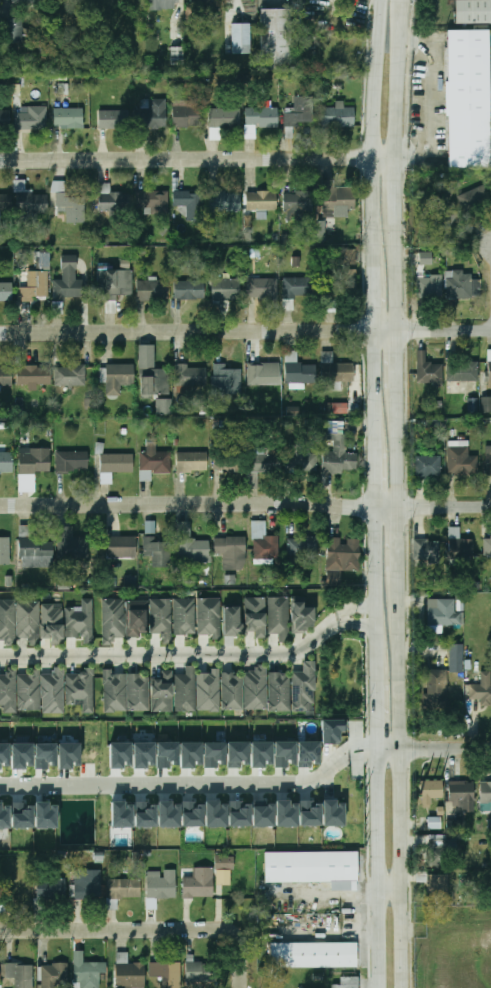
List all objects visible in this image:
building: (25, 2)
building: (164, 4)
building: (206, 5)
road: (404, 8)
building: (472, 11)
building: (13, 30)
building: (241, 39)
building: (275, 39)
building: (306, 51)
building: (176, 55)
road: (400, 84)
road: (428, 98)
building: (469, 99)
building: (301, 111)
road: (377, 112)
building: (188, 114)
building: (262, 115)
building: (338, 116)
building: (68, 117)
building: (150, 117)
building: (33, 118)
building: (225, 118)
building: (5, 119)
building: (112, 119)
road: (198, 153)
road: (398, 192)
building: (472, 197)
building: (337, 198)
building: (29, 200)
building: (112, 200)
building: (262, 201)
building: (153, 202)
building: (225, 202)
building: (299, 202)
building: (5, 203)
building: (189, 203)
building: (69, 208)
building: (442, 223)
building: (320, 230)
building: (346, 256)
building: (425, 257)
building: (44, 261)
building: (69, 277)
building: (346, 279)
road: (377, 279)
road: (400, 281)
building: (116, 284)
building: (429, 285)
building: (459, 285)
building: (35, 287)
building: (153, 289)
building: (226, 289)
building: (263, 289)
building: (297, 289)
building: (189, 290)
building: (6, 291)
road: (245, 333)
road: (401, 361)
building: (336, 370)
building: (428, 370)
building: (462, 372)
building: (489, 372)
building: (301, 373)
building: (5, 375)
building: (33, 375)
building: (70, 375)
building: (264, 375)
building: (191, 376)
building: (118, 378)
building: (155, 379)
building: (227, 379)
road: (378, 382)
building: (486, 404)
building: (472, 405)
building: (163, 406)
building: (339, 407)
road: (401, 449)
building: (340, 457)
building: (300, 459)
building: (488, 460)
building: (34, 461)
building: (191, 461)
building: (265, 461)
building: (461, 461)
building: (6, 462)
building: (72, 462)
building: (153, 463)
building: (115, 465)
building: (230, 466)
building: (428, 466)
road: (379, 470)
road: (245, 504)
building: (150, 527)
building: (263, 542)
building: (72, 544)
building: (191, 545)
building: (459, 545)
building: (303, 546)
building: (487, 546)
building: (122, 547)
building: (5, 550)
building: (35, 551)
building: (158, 551)
building: (231, 551)
building: (426, 551)
building: (343, 554)
road: (379, 561)
road: (402, 563)
building: (63, 583)
road: (359, 609)
building: (440, 613)
building: (185, 615)
building: (161, 616)
building: (209, 616)
building: (278, 616)
building: (302, 616)
building: (255, 617)
building: (136, 618)
building: (113, 619)
building: (8, 620)
building: (28, 620)
building: (80, 620)
building: (232, 621)
building: (52, 622)
road: (363, 625)
road: (379, 629)
road: (177, 656)
building: (456, 658)
building: (255, 688)
building: (304, 688)
building: (81, 689)
building: (482, 689)
building: (8, 690)
building: (29, 690)
building: (185, 690)
building: (209, 690)
building: (232, 690)
building: (437, 690)
building: (52, 691)
building: (114, 692)
building: (138, 692)
building: (162, 692)
building: (279, 692)
road: (380, 695)
building: (332, 730)
road: (433, 745)
road: (370, 747)
building: (284, 753)
building: (307, 753)
building: (4, 754)
building: (143, 754)
building: (166, 754)
building: (190, 754)
building: (214, 754)
building: (237, 754)
building: (260, 754)
building: (21, 755)
building: (44, 755)
building: (68, 755)
building: (119, 755)
building: (431, 791)
road: (188, 793)
building: (462, 793)
building: (486, 793)
road: (403, 802)
building: (314, 809)
building: (333, 813)
building: (168, 814)
building: (192, 814)
building: (216, 814)
building: (239, 814)
building: (262, 814)
building: (286, 814)
building: (22, 815)
building: (45, 815)
building: (121, 815)
building: (145, 815)
building: (4, 817)
building: (434, 823)
building: (489, 825)
building: (455, 826)
building: (438, 856)
building: (224, 862)
building: (311, 867)
road: (375, 867)
building: (223, 877)
road: (390, 880)
building: (198, 883)
building: (88, 884)
building: (162, 885)
building: (125, 888)
building: (438, 889)
building: (49, 891)
road: (361, 928)
road: (312, 929)
road: (117, 932)
building: (314, 957)
road: (244, 959)
building: (87, 972)
building: (201, 972)
building: (129, 973)
building: (21, 974)
building: (167, 974)
building: (54, 976)
building: (348, 983)

